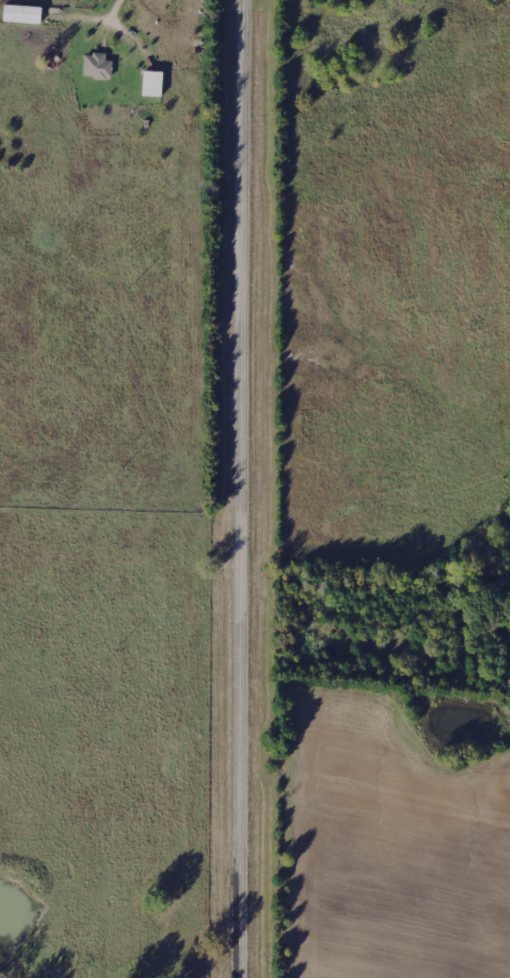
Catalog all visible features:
building: (23, 14)
building: (97, 66)
building: (153, 84)
road: (244, 488)

